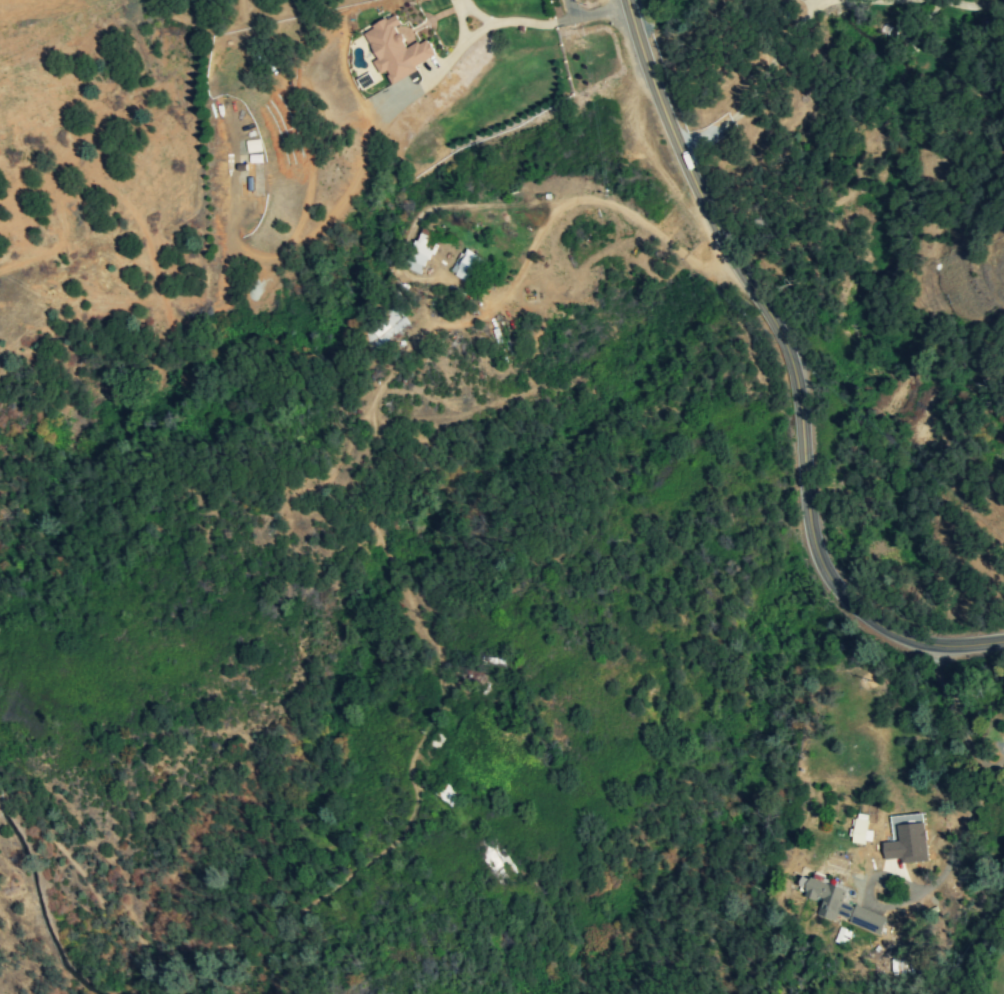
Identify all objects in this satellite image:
road: (957, 2)
road: (594, 12)
road: (495, 22)
building: (396, 50)
road: (762, 77)
road: (555, 209)
building: (419, 252)
building: (465, 265)
building: (384, 328)
road: (795, 374)
road: (952, 728)
building: (862, 830)
building: (908, 843)
road: (953, 850)
building: (839, 905)

